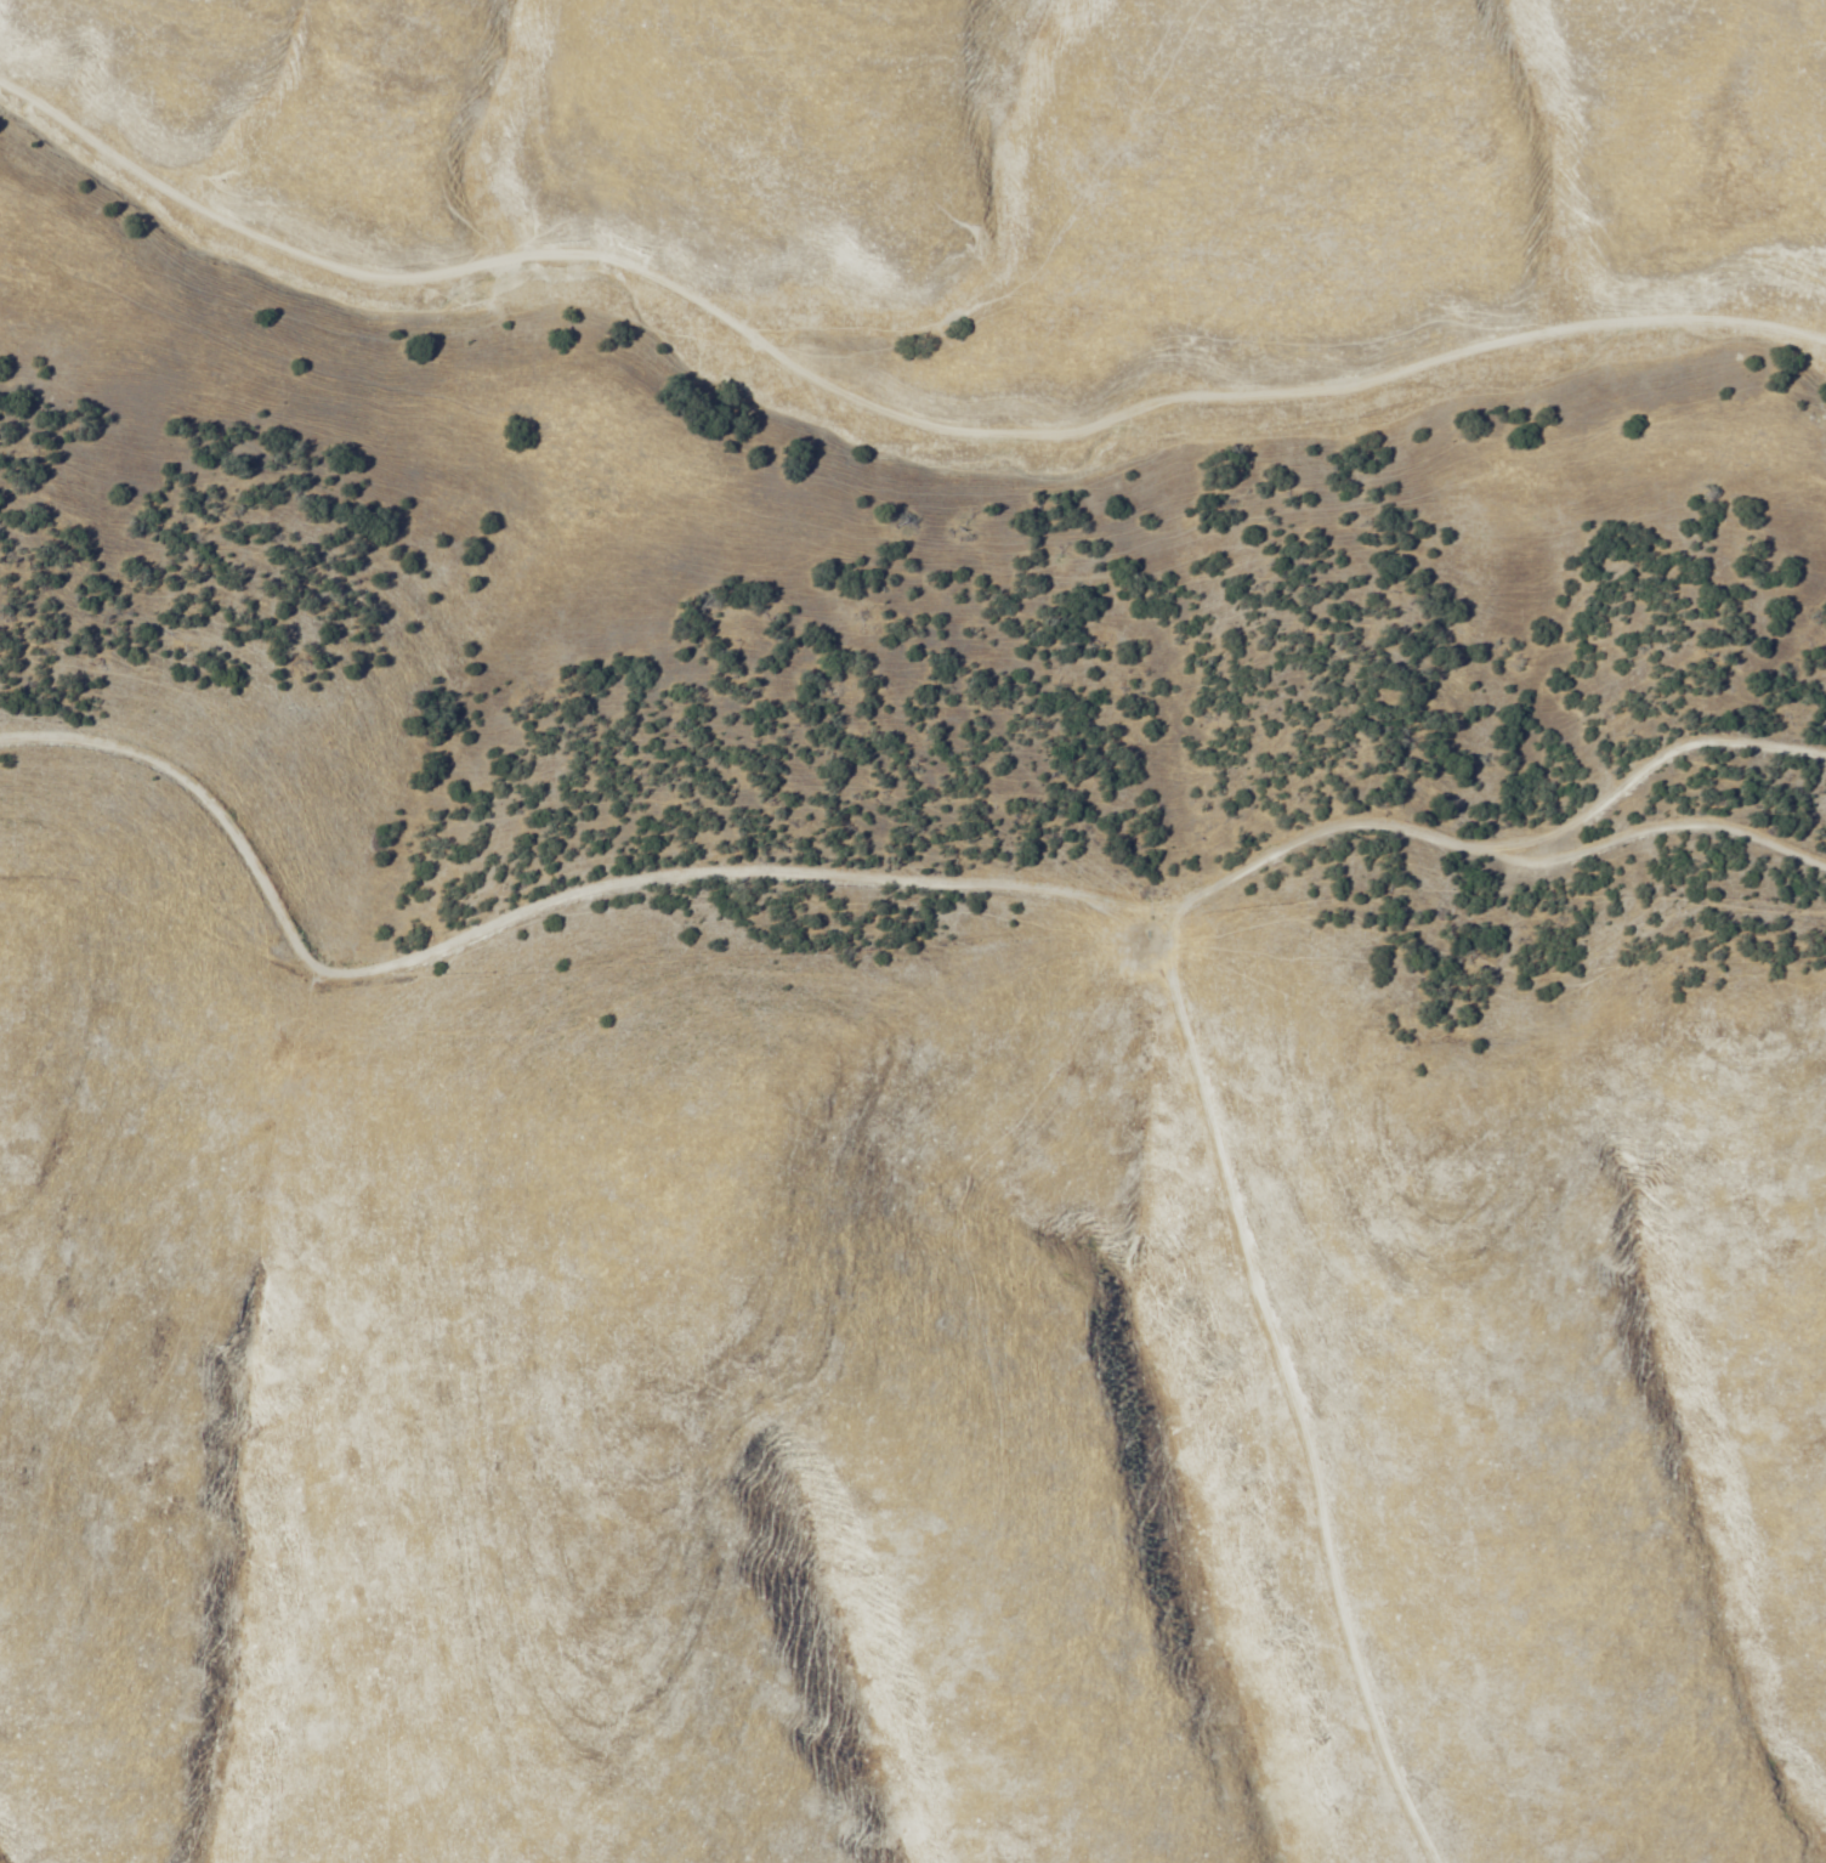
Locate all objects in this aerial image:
road: (886, 395)
road: (884, 901)
road: (1283, 1383)

